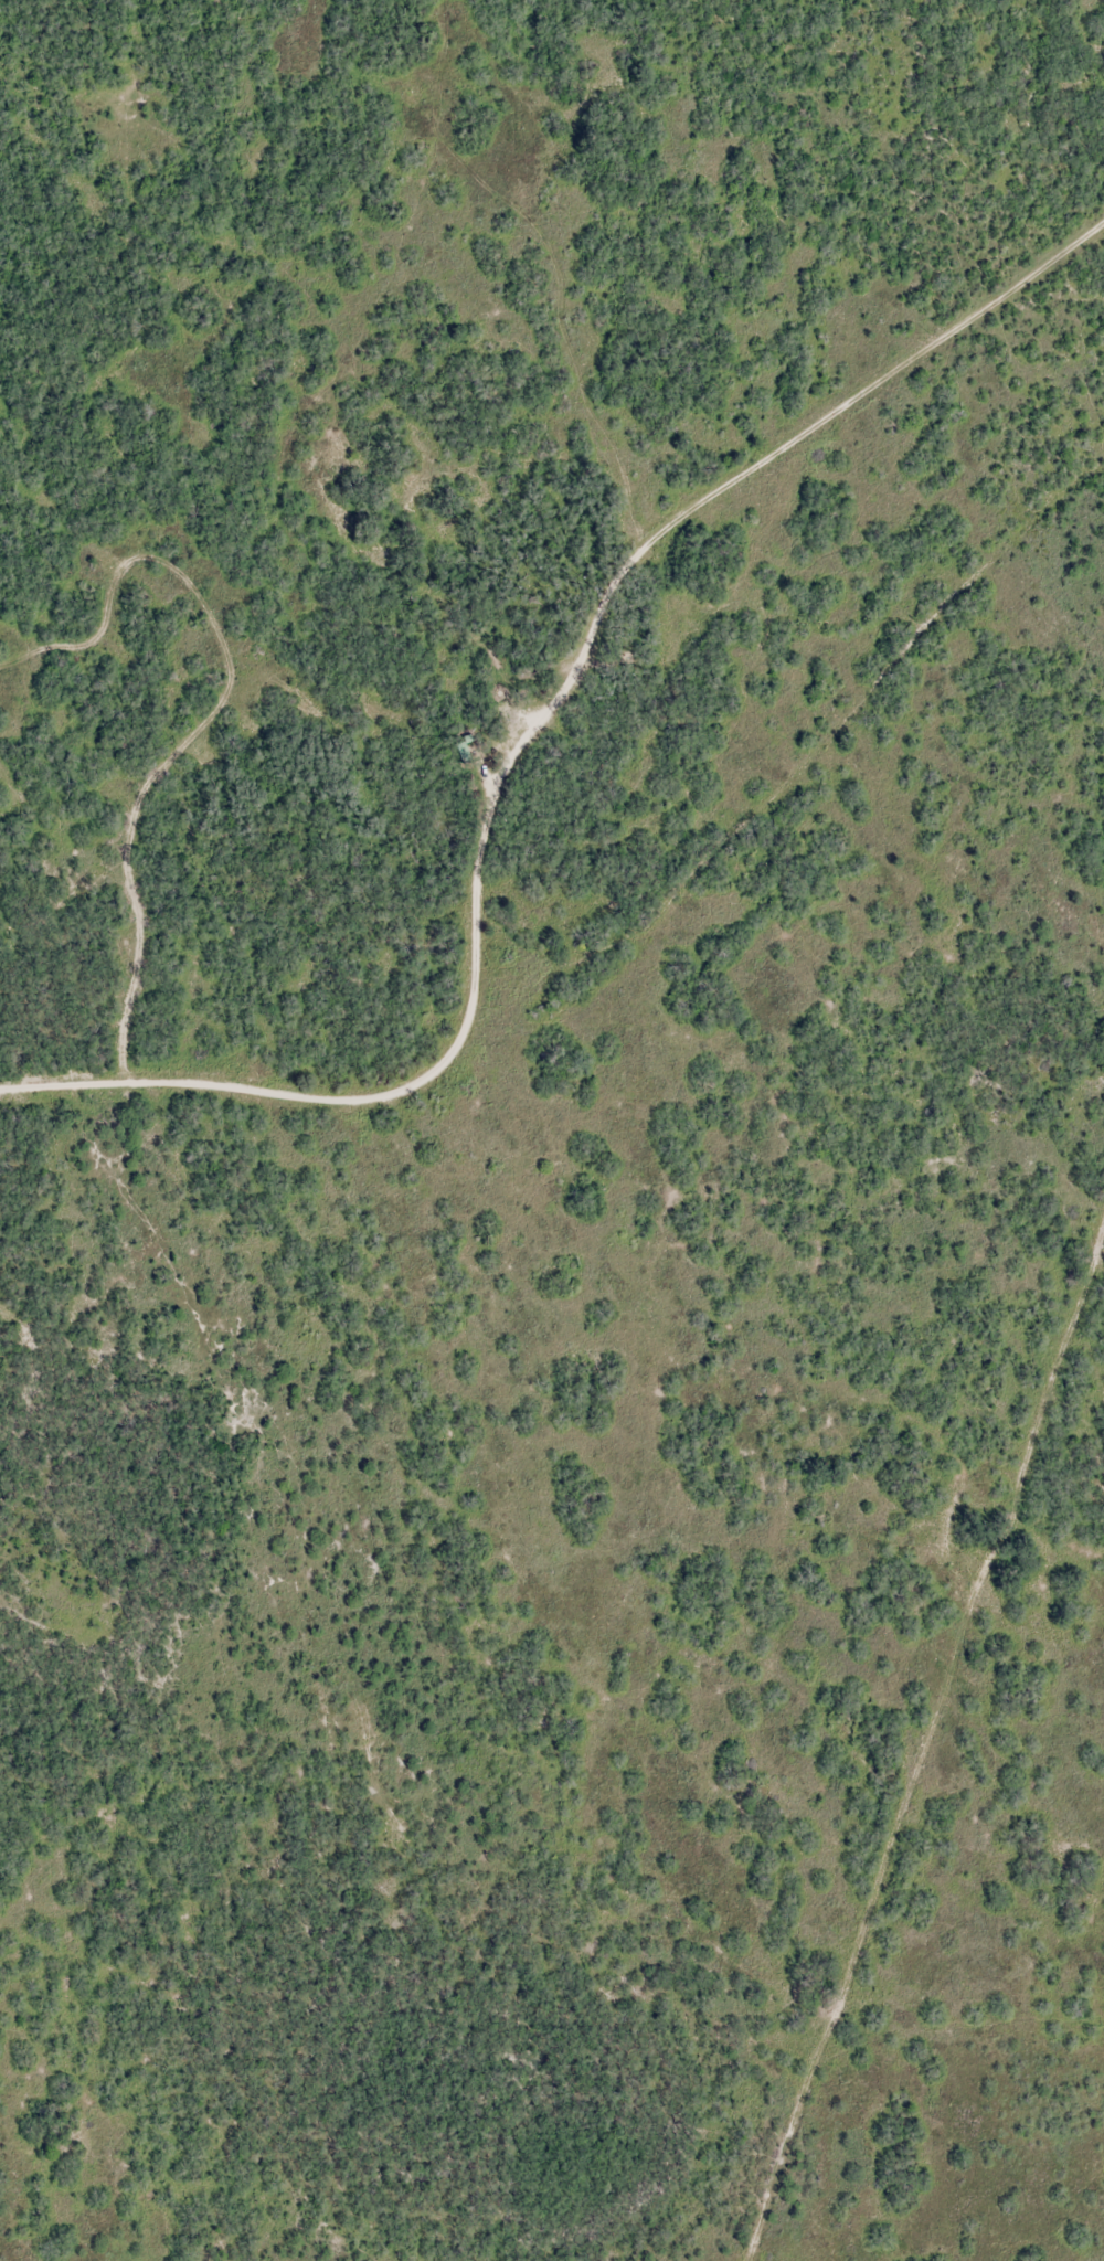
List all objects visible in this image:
road: (647, 529)
road: (242, 1084)

